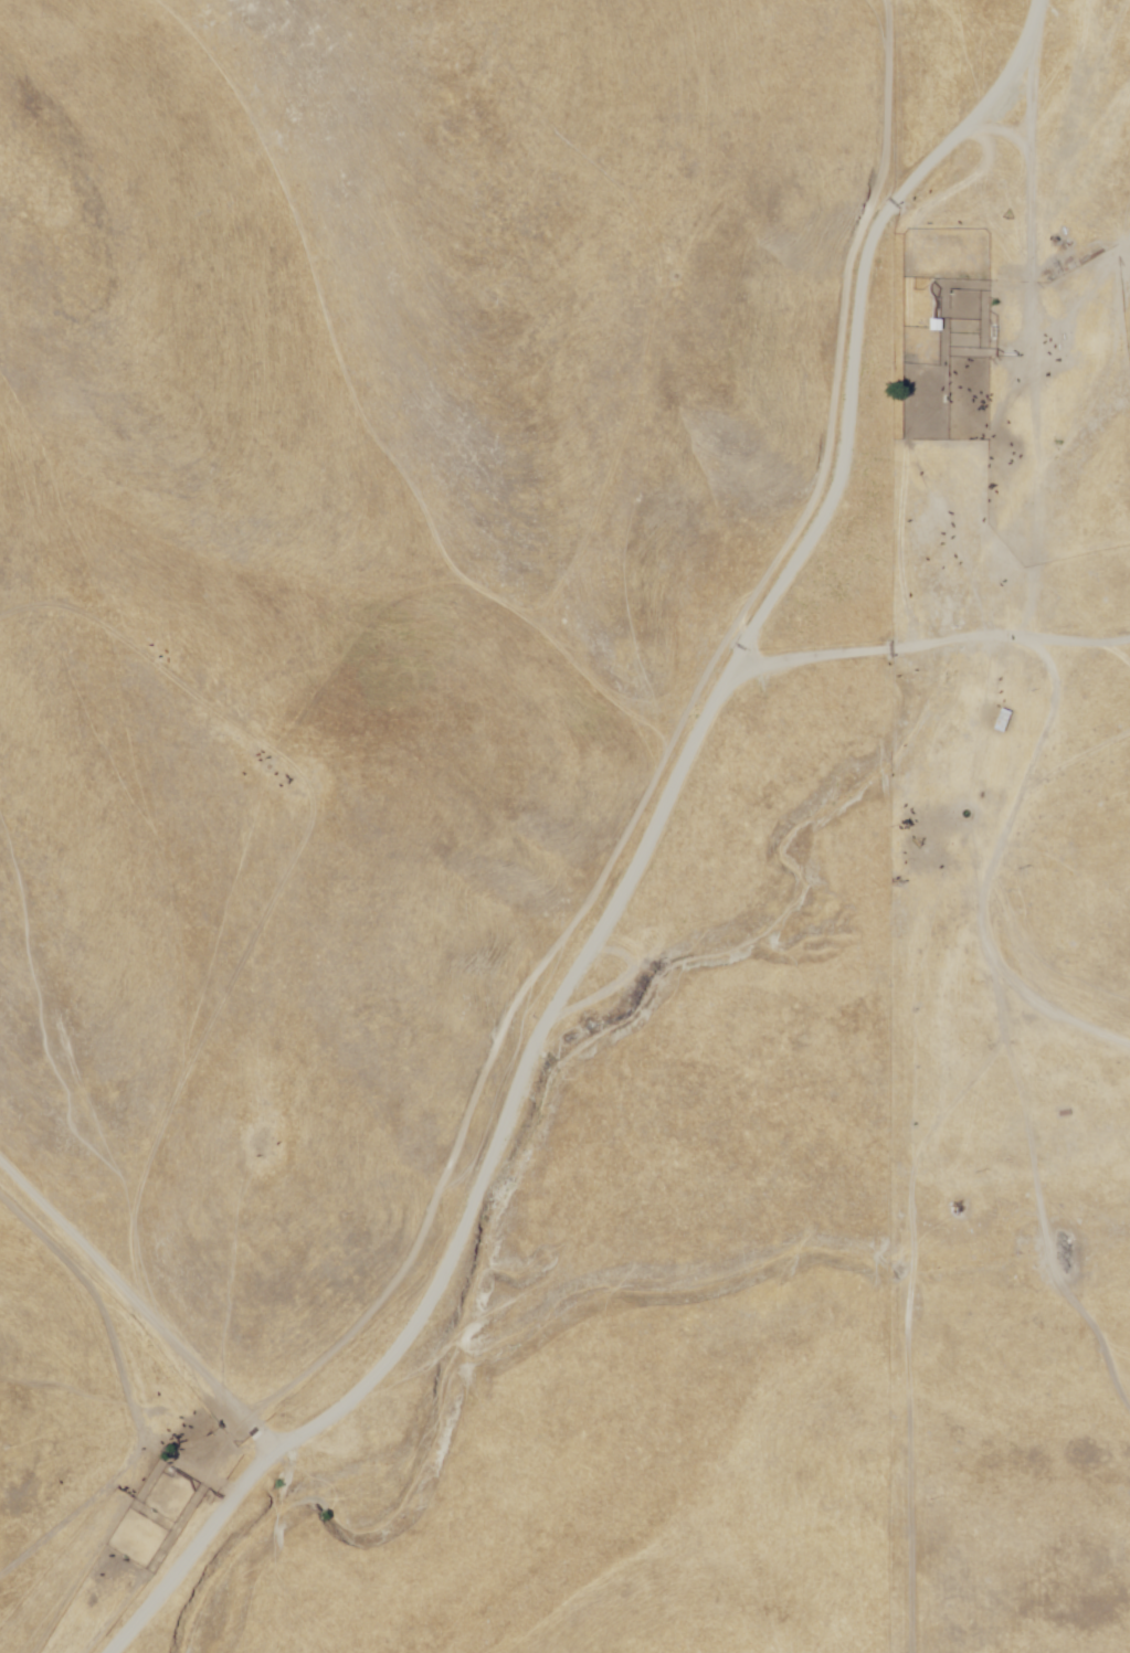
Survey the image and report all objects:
road: (989, 597)
road: (1034, 644)
road: (486, 1099)
road: (739, 1228)
road: (23, 1504)

